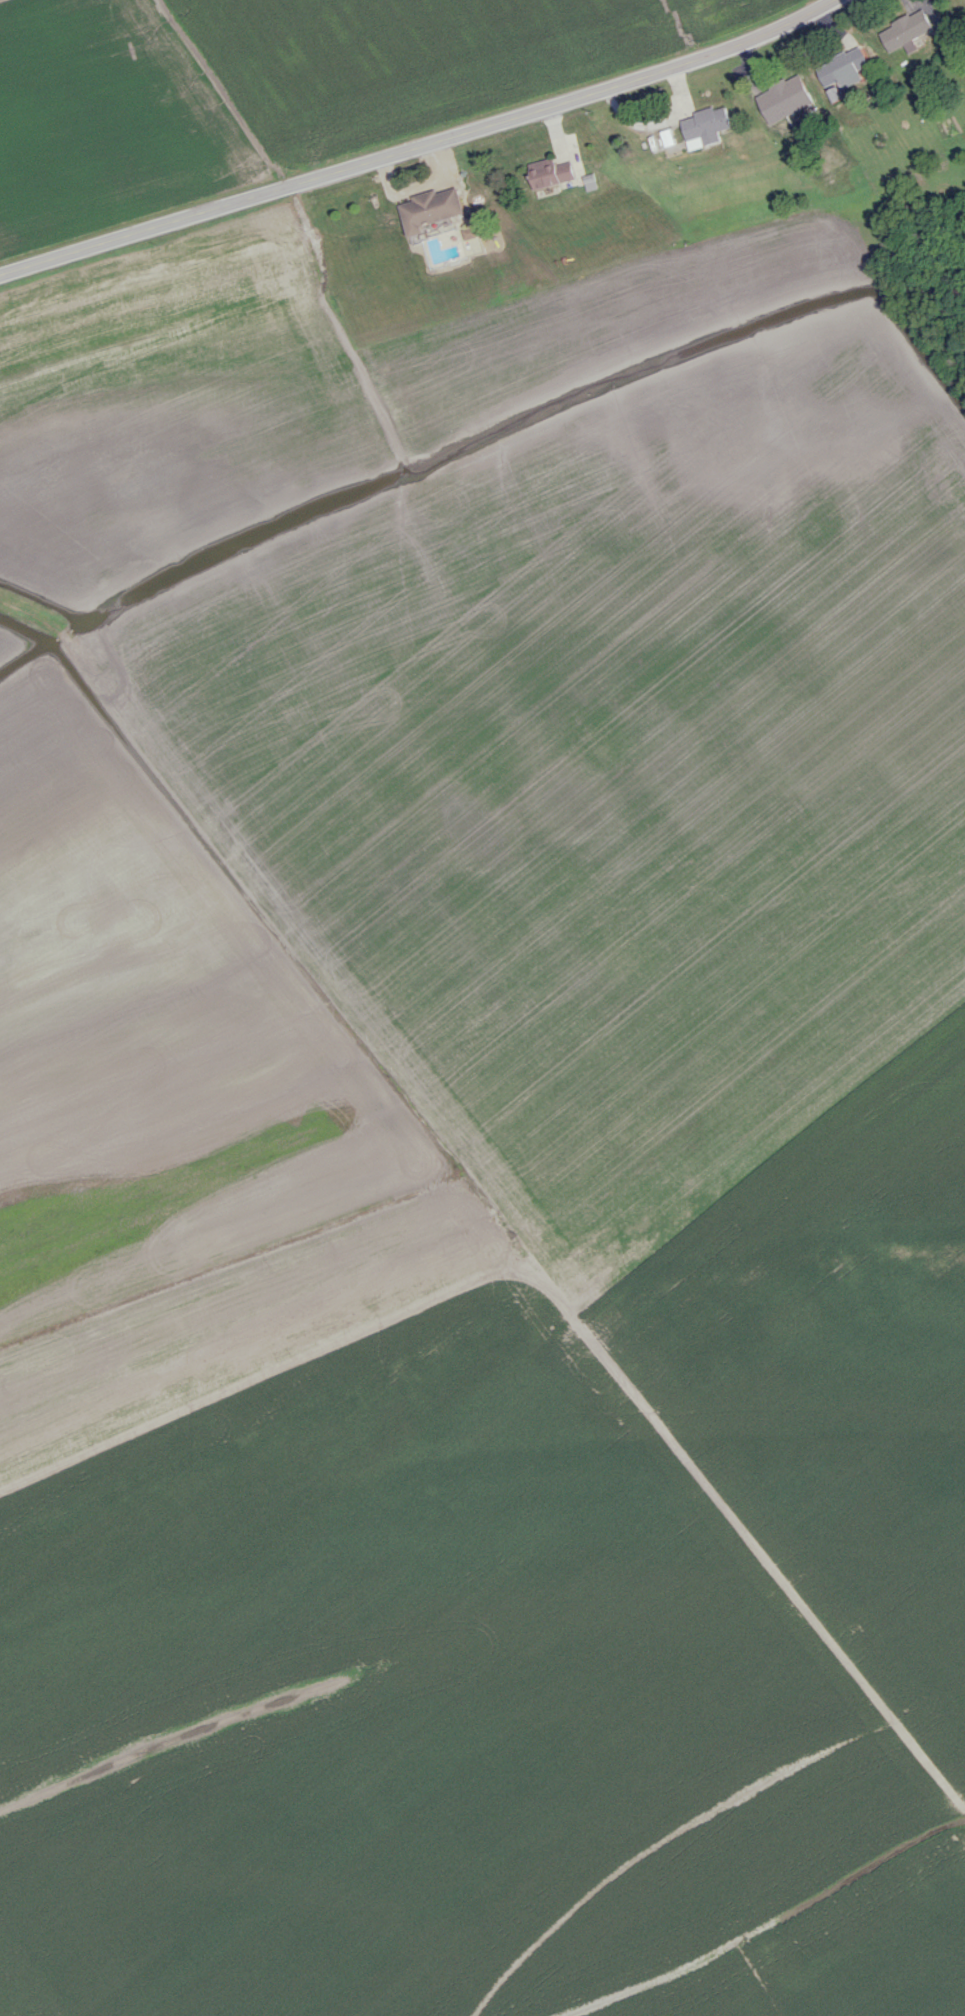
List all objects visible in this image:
building: (906, 30)
building: (843, 68)
building: (784, 95)
building: (705, 127)
road: (420, 146)
building: (550, 174)
building: (430, 209)

